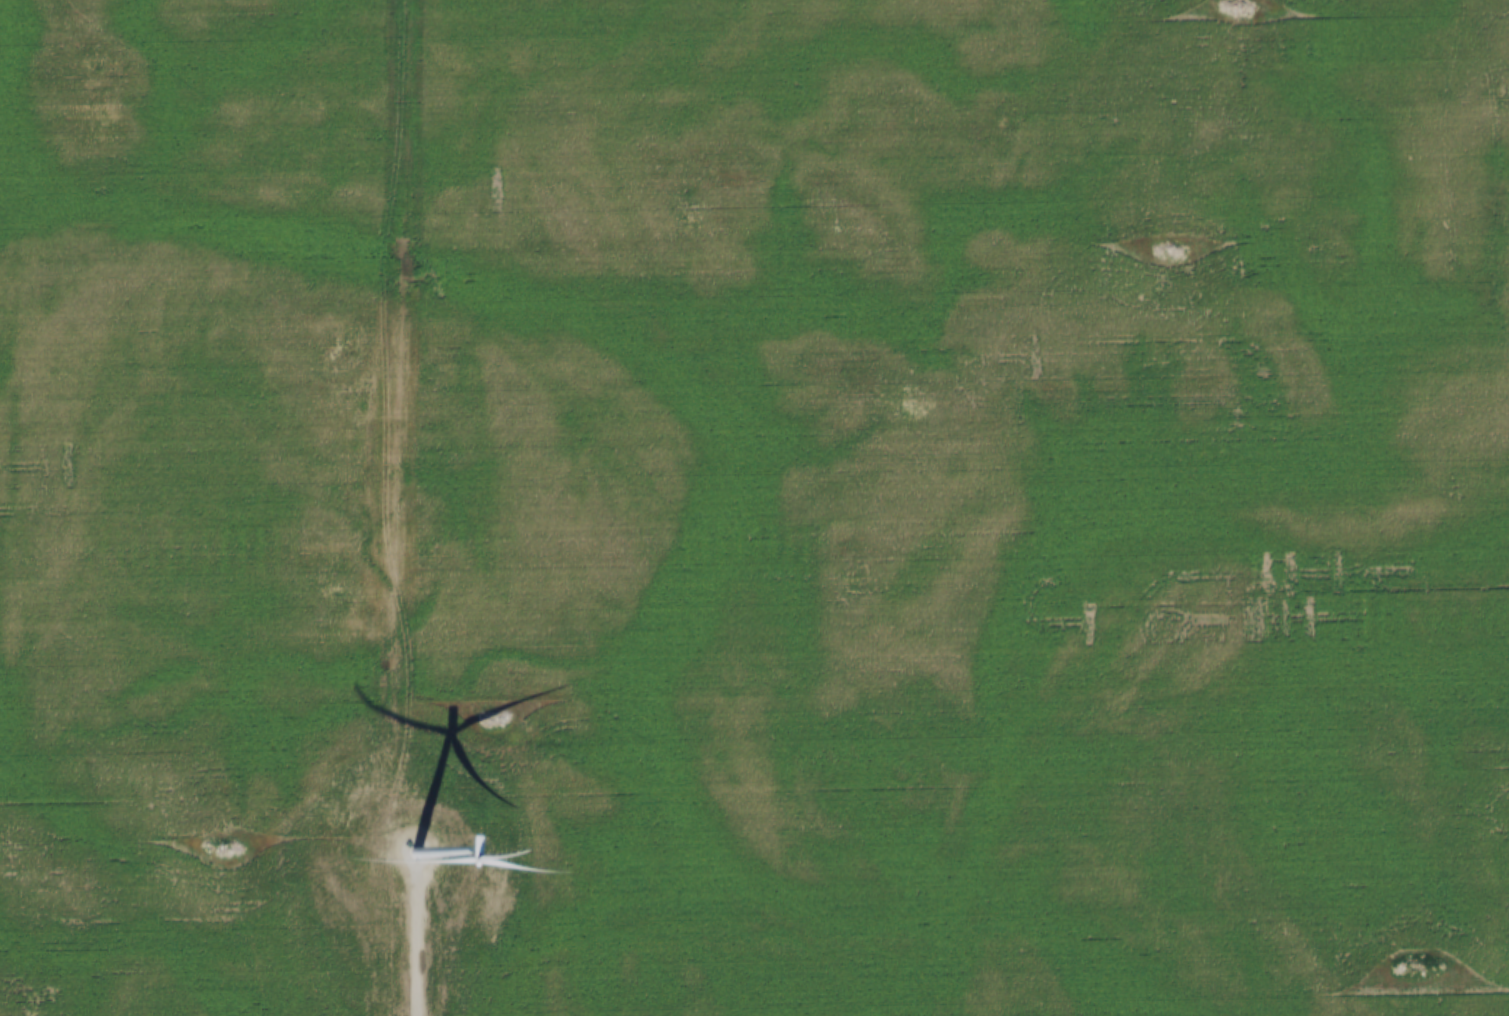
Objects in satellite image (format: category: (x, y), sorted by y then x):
wind turbine: (417, 848)

